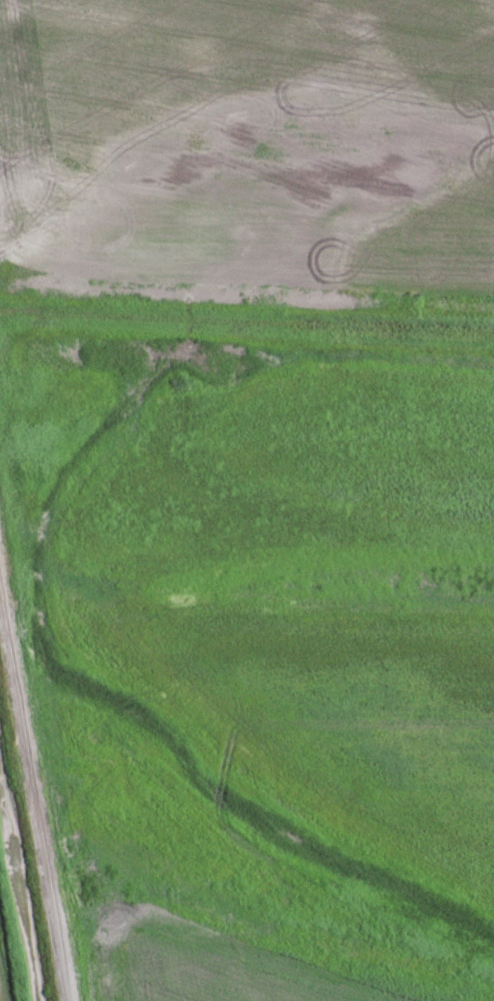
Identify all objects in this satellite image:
road: (34, 794)

